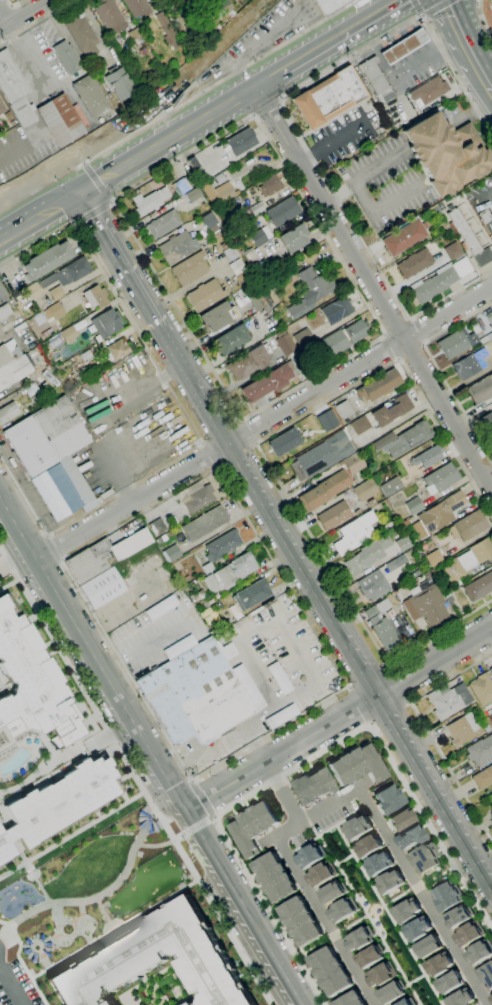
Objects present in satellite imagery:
building: (157, 0)
building: (292, 0)
road: (13, 3)
road: (11, 5)
building: (330, 6)
building: (490, 6)
building: (137, 7)
building: (220, 7)
road: (5, 8)
road: (428, 11)
road: (22, 13)
building: (110, 16)
road: (420, 16)
road: (2, 20)
road: (484, 21)
road: (37, 22)
building: (168, 31)
building: (82, 34)
road: (467, 34)
building: (135, 35)
road: (332, 45)
building: (403, 47)
gas station: (403, 47)
building: (67, 57)
road: (488, 75)
building: (11, 79)
building: (376, 80)
road: (215, 83)
building: (119, 84)
building: (428, 92)
building: (90, 95)
building: (328, 97)
building: (2, 108)
building: (22, 112)
road: (269, 112)
road: (471, 115)
building: (60, 120)
road: (292, 122)
flagpole: (484, 129)
parking lot: (346, 136)
road: (429, 138)
flagpole: (490, 141)
road: (167, 142)
building: (241, 142)
road: (333, 143)
building: (446, 153)
road: (183, 158)
building: (192, 163)
road: (96, 183)
building: (269, 185)
building: (181, 186)
road: (37, 189)
building: (218, 193)
road: (361, 193)
building: (193, 194)
traffic signals: (77, 196)
road: (485, 197)
building: (150, 201)
building: (257, 208)
building: (283, 211)
road: (94, 212)
building: (236, 212)
road: (38, 219)
building: (486, 220)
building: (162, 224)
building: (211, 225)
building: (258, 237)
building: (405, 237)
building: (293, 238)
building: (468, 238)
road: (39, 244)
building: (177, 247)
building: (228, 251)
building: (453, 251)
building: (47, 260)
building: (414, 263)
road: (117, 265)
building: (190, 268)
building: (68, 273)
building: (434, 285)
road: (374, 287)
road: (183, 289)
building: (310, 291)
building: (268, 293)
building: (55, 294)
building: (206, 295)
building: (95, 296)
road: (362, 297)
road: (119, 300)
building: (256, 302)
road: (176, 308)
building: (337, 310)
building: (4, 312)
building: (53, 312)
building: (217, 317)
building: (489, 317)
building: (40, 319)
building: (106, 323)
road: (396, 326)
road: (416, 333)
building: (69, 334)
building: (489, 336)
building: (303, 337)
building: (341, 339)
building: (230, 340)
building: (284, 343)
building: (455, 343)
road: (391, 347)
building: (115, 351)
road: (412, 353)
building: (86, 356)
road: (172, 358)
building: (248, 363)
building: (12, 366)
building: (466, 367)
road: (437, 369)
building: (81, 376)
building: (269, 382)
building: (379, 386)
road: (212, 390)
building: (480, 390)
building: (32, 393)
road: (182, 409)
building: (343, 410)
building: (391, 410)
building: (8, 412)
road: (206, 414)
road: (103, 415)
road: (241, 419)
building: (327, 420)
road: (263, 422)
building: (487, 422)
building: (360, 425)
road: (248, 432)
building: (46, 436)
road: (240, 437)
road: (446, 437)
building: (411, 438)
building: (386, 439)
building: (285, 441)
road: (201, 442)
road: (209, 454)
building: (323, 455)
building: (428, 456)
road: (234, 461)
building: (353, 463)
road: (217, 466)
building: (440, 478)
road: (265, 479)
road: (278, 481)
building: (390, 486)
building: (62, 489)
building: (365, 490)
building: (324, 491)
building: (196, 497)
road: (263, 498)
building: (371, 503)
building: (414, 505)
road: (8, 513)
road: (85, 513)
building: (357, 513)
building: (438, 514)
road: (136, 515)
building: (334, 515)
building: (205, 523)
building: (404, 523)
building: (469, 525)
building: (157, 527)
building: (355, 533)
road: (25, 541)
building: (403, 543)
road: (4, 544)
road: (52, 547)
building: (220, 548)
building: (172, 553)
building: (106, 555)
building: (367, 555)
building: (433, 558)
road: (14, 559)
road: (61, 560)
building: (467, 561)
road: (16, 562)
building: (396, 563)
road: (309, 564)
building: (433, 572)
building: (230, 573)
road: (281, 576)
building: (186, 579)
building: (104, 586)
road: (309, 587)
building: (479, 587)
building: (375, 588)
building: (252, 594)
building: (198, 595)
building: (449, 599)
building: (383, 605)
building: (426, 605)
road: (80, 631)
road: (438, 631)
building: (384, 633)
road: (344, 635)
road: (362, 641)
road: (151, 650)
road: (385, 664)
road: (432, 664)
building: (490, 670)
road: (82, 677)
road: (450, 677)
road: (395, 684)
road: (347, 686)
road: (388, 687)
building: (31, 688)
building: (482, 689)
building: (195, 695)
building: (449, 700)
road: (407, 702)
road: (359, 705)
road: (382, 714)
road: (369, 725)
building: (462, 729)
road: (415, 734)
road: (144, 740)
road: (413, 746)
building: (480, 751)
road: (174, 752)
road: (202, 755)
road: (279, 755)
building: (357, 765)
road: (450, 772)
road: (135, 776)
building: (483, 777)
building: (314, 785)
road: (159, 786)
road: (150, 791)
road: (174, 792)
road: (282, 792)
road: (201, 798)
building: (390, 799)
building: (491, 800)
building: (57, 802)
road: (314, 811)
building: (491, 811)
road: (442, 813)
road: (142, 814)
road: (457, 815)
road: (213, 817)
building: (402, 819)
road: (195, 825)
road: (84, 826)
building: (252, 826)
road: (144, 827)
building: (356, 828)
road: (327, 829)
road: (430, 829)
road: (222, 834)
building: (411, 836)
road: (176, 837)
street lamp: (132, 838)
building: (367, 847)
building: (310, 856)
building: (425, 858)
building: (378, 864)
road: (218, 865)
road: (28, 866)
building: (320, 875)
building: (274, 877)
building: (389, 882)
street lamp: (37, 887)
road: (40, 887)
park: (91, 891)
building: (331, 893)
road: (101, 894)
road: (421, 895)
street lamp: (108, 896)
building: (447, 896)
road: (216, 899)
street lamp: (145, 907)
building: (341, 910)
road: (373, 911)
building: (406, 911)
road: (104, 913)
road: (388, 914)
street lamp: (1, 916)
building: (459, 916)
road: (324, 919)
road: (369, 920)
building: (300, 921)
road: (113, 928)
street lamp: (53, 929)
building: (416, 930)
road: (58, 933)
building: (469, 934)
road: (6, 935)
street lamp: (92, 938)
building: (358, 939)
building: (427, 947)
road: (268, 950)
building: (479, 952)
building: (369, 957)
building: (155, 959)
road: (20, 961)
street lamp: (51, 963)
building: (438, 965)
building: (329, 971)
building: (486, 974)
building: (380, 975)
building: (449, 982)
road: (11, 985)
road: (293, 992)
building: (391, 993)
building: (491, 997)
building: (461, 998)
building: (350, 999)
building: (190, 1003)
building: (405, 1003)
road: (480, 1003)

